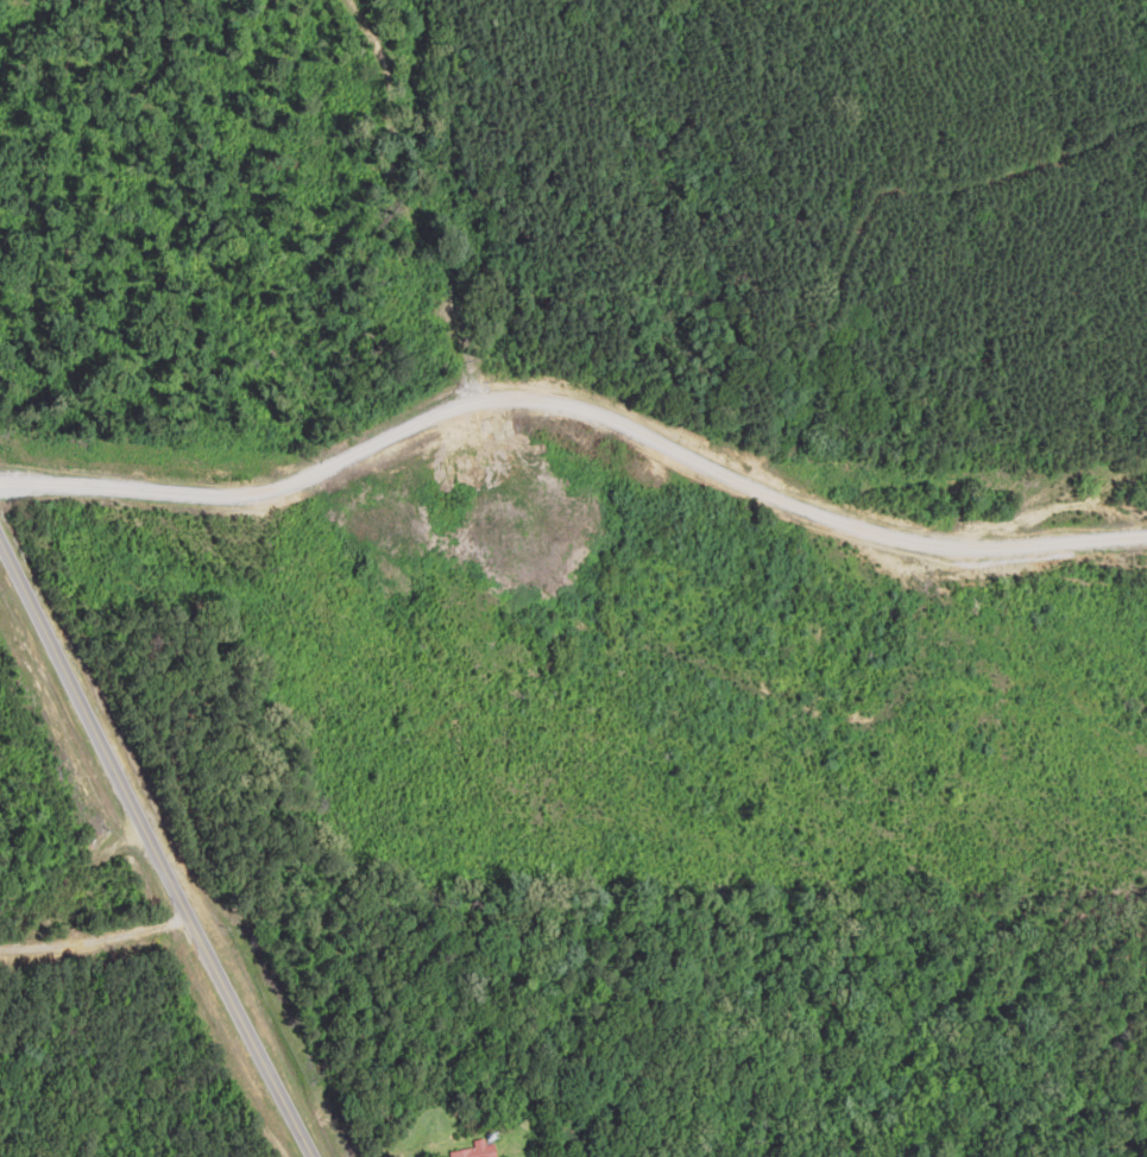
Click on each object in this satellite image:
road: (567, 348)
road: (164, 834)
building: (481, 1150)

